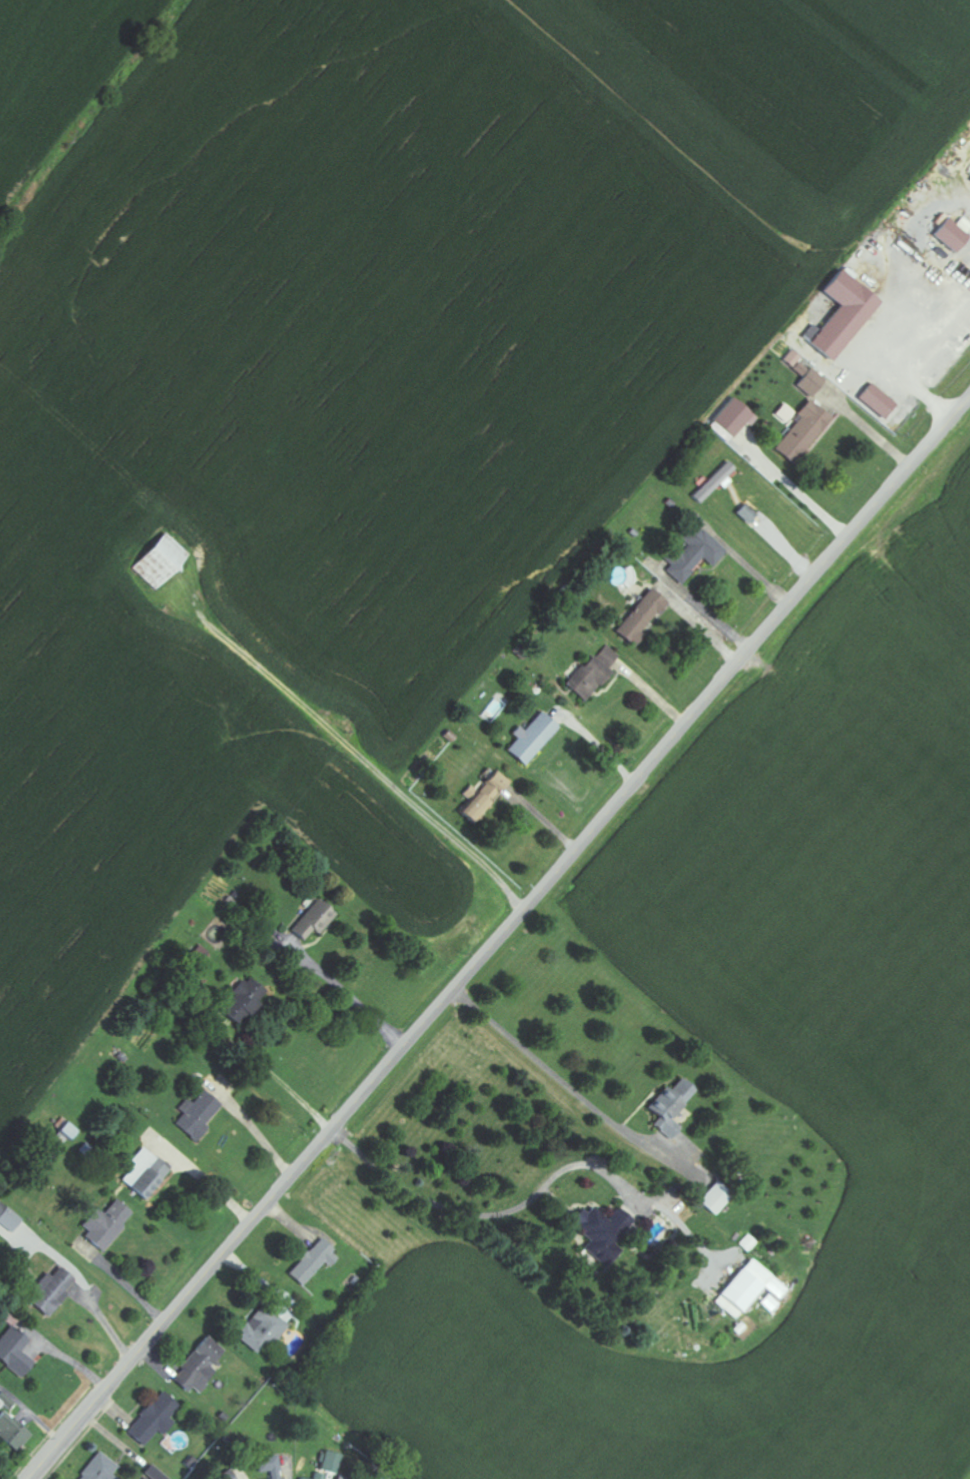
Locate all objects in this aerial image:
building: (843, 315)
building: (795, 363)
building: (810, 382)
building: (876, 401)
building: (785, 413)
building: (731, 420)
building: (802, 433)
building: (713, 483)
building: (693, 554)
building: (158, 562)
building: (640, 617)
building: (607, 655)
building: (587, 679)
road: (329, 720)
building: (530, 739)
road: (638, 777)
building: (480, 797)
building: (313, 920)
building: (243, 999)
building: (670, 1106)
building: (197, 1114)
building: (66, 1130)
building: (144, 1173)
building: (715, 1197)
road: (485, 1214)
building: (7, 1220)
building: (105, 1223)
building: (602, 1231)
road: (228, 1244)
building: (312, 1261)
building: (748, 1288)
building: (49, 1291)
building: (259, 1329)
building: (13, 1352)
building: (198, 1366)
road: (91, 1406)
building: (153, 1419)
building: (10, 1427)
building: (269, 1466)
building: (153, 1473)
building: (228, 1476)

